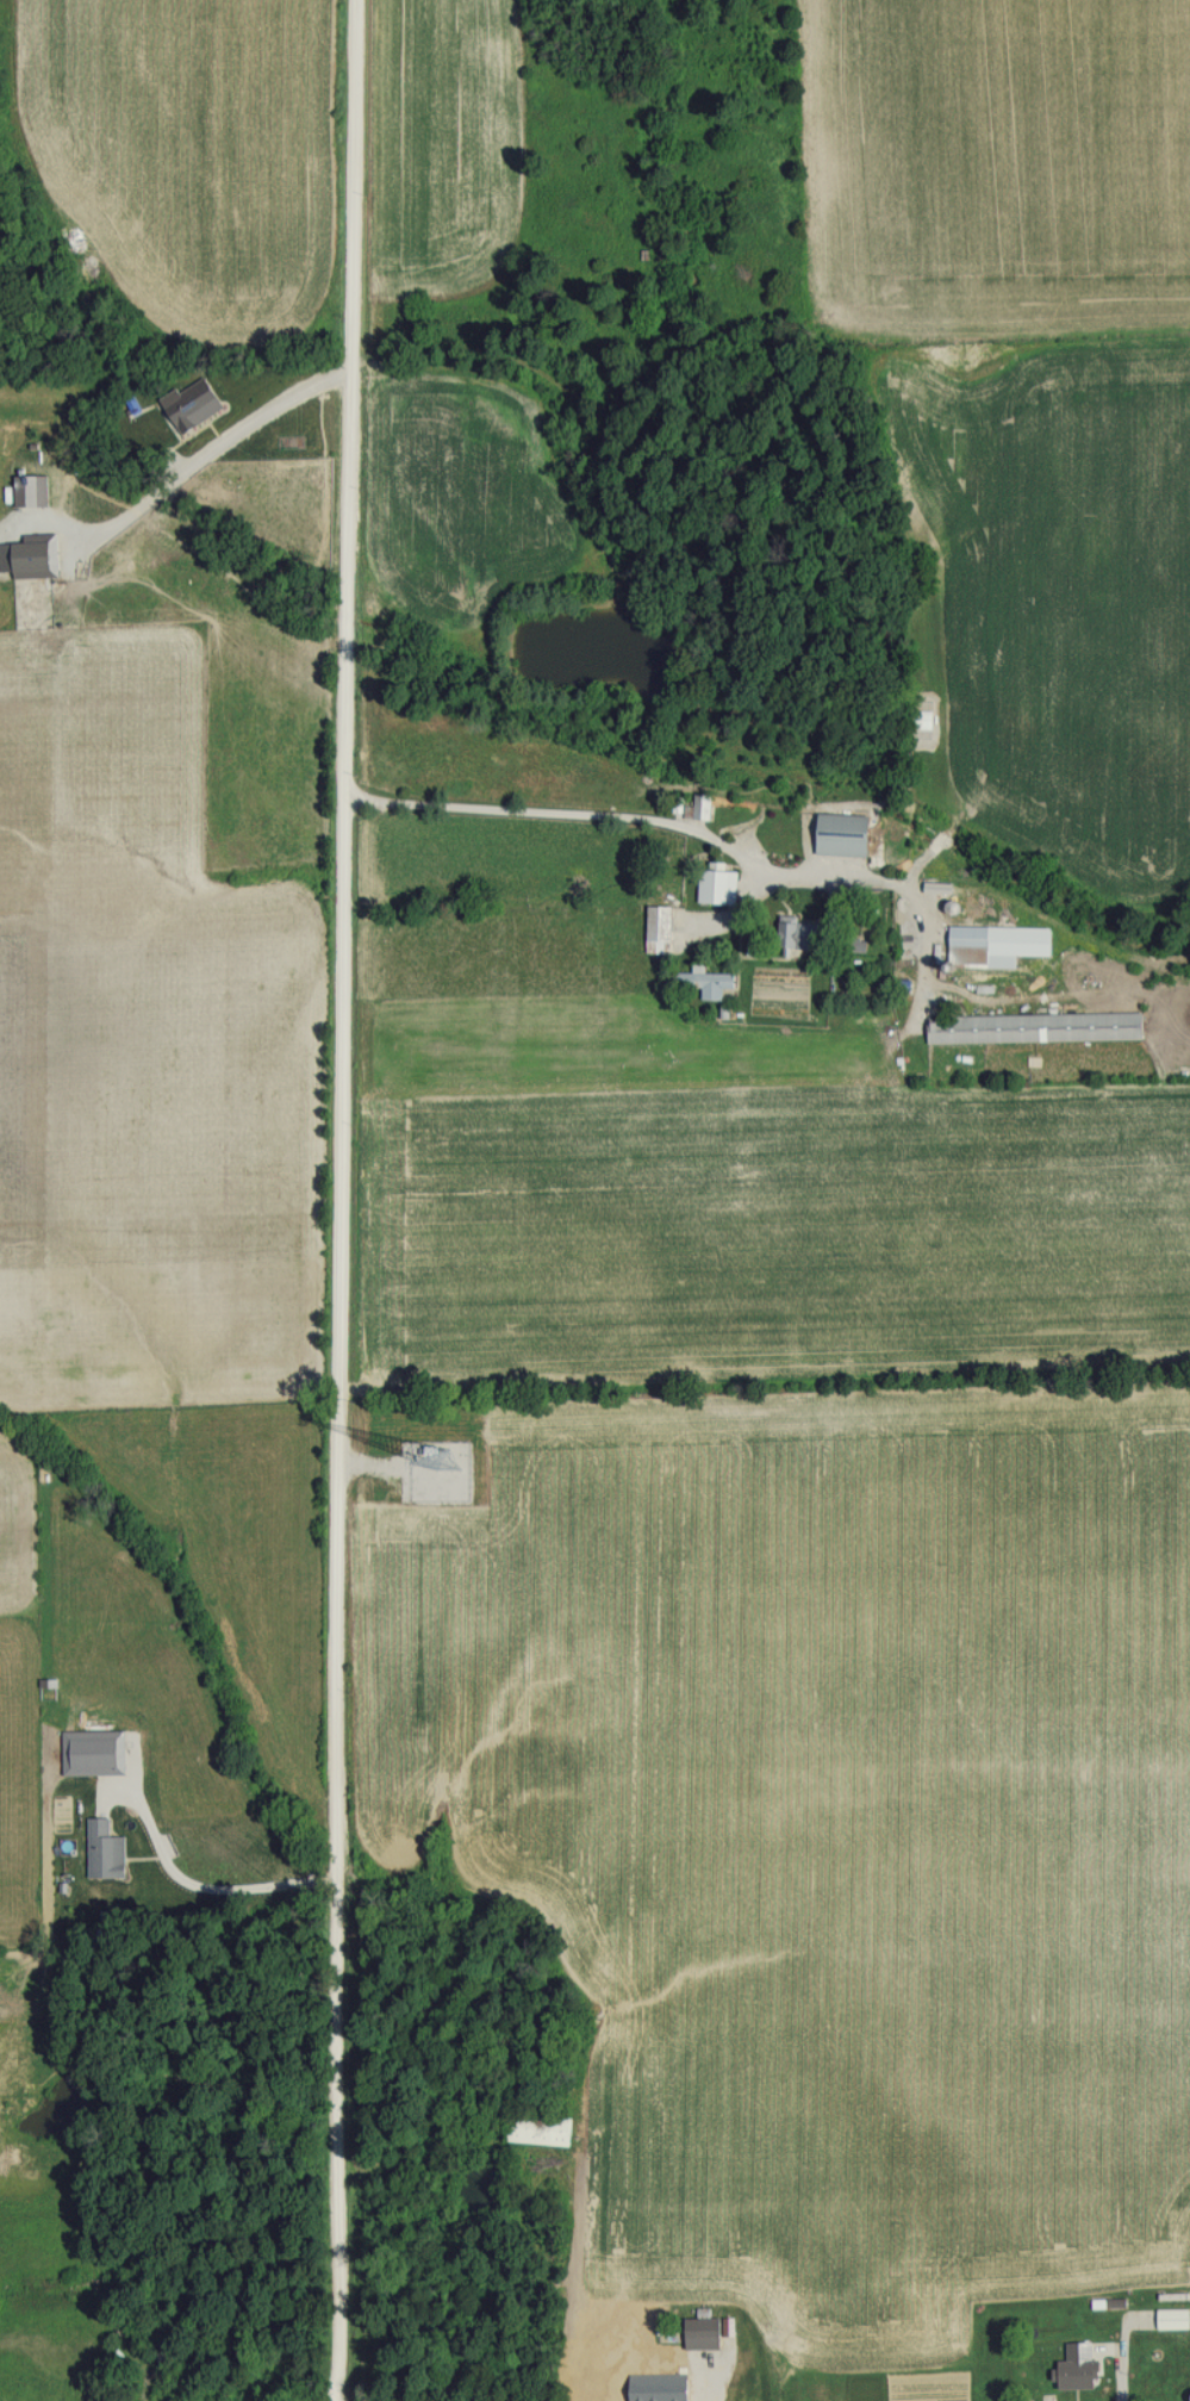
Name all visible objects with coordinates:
road: (256, 423)
building: (702, 807)
road: (582, 822)
building: (851, 835)
building: (721, 887)
building: (662, 929)
building: (972, 945)
building: (709, 983)
building: (1029, 1026)
road: (338, 1200)
building: (541, 2129)
building: (1067, 2368)
building: (673, 2377)
road: (1053, 2388)

